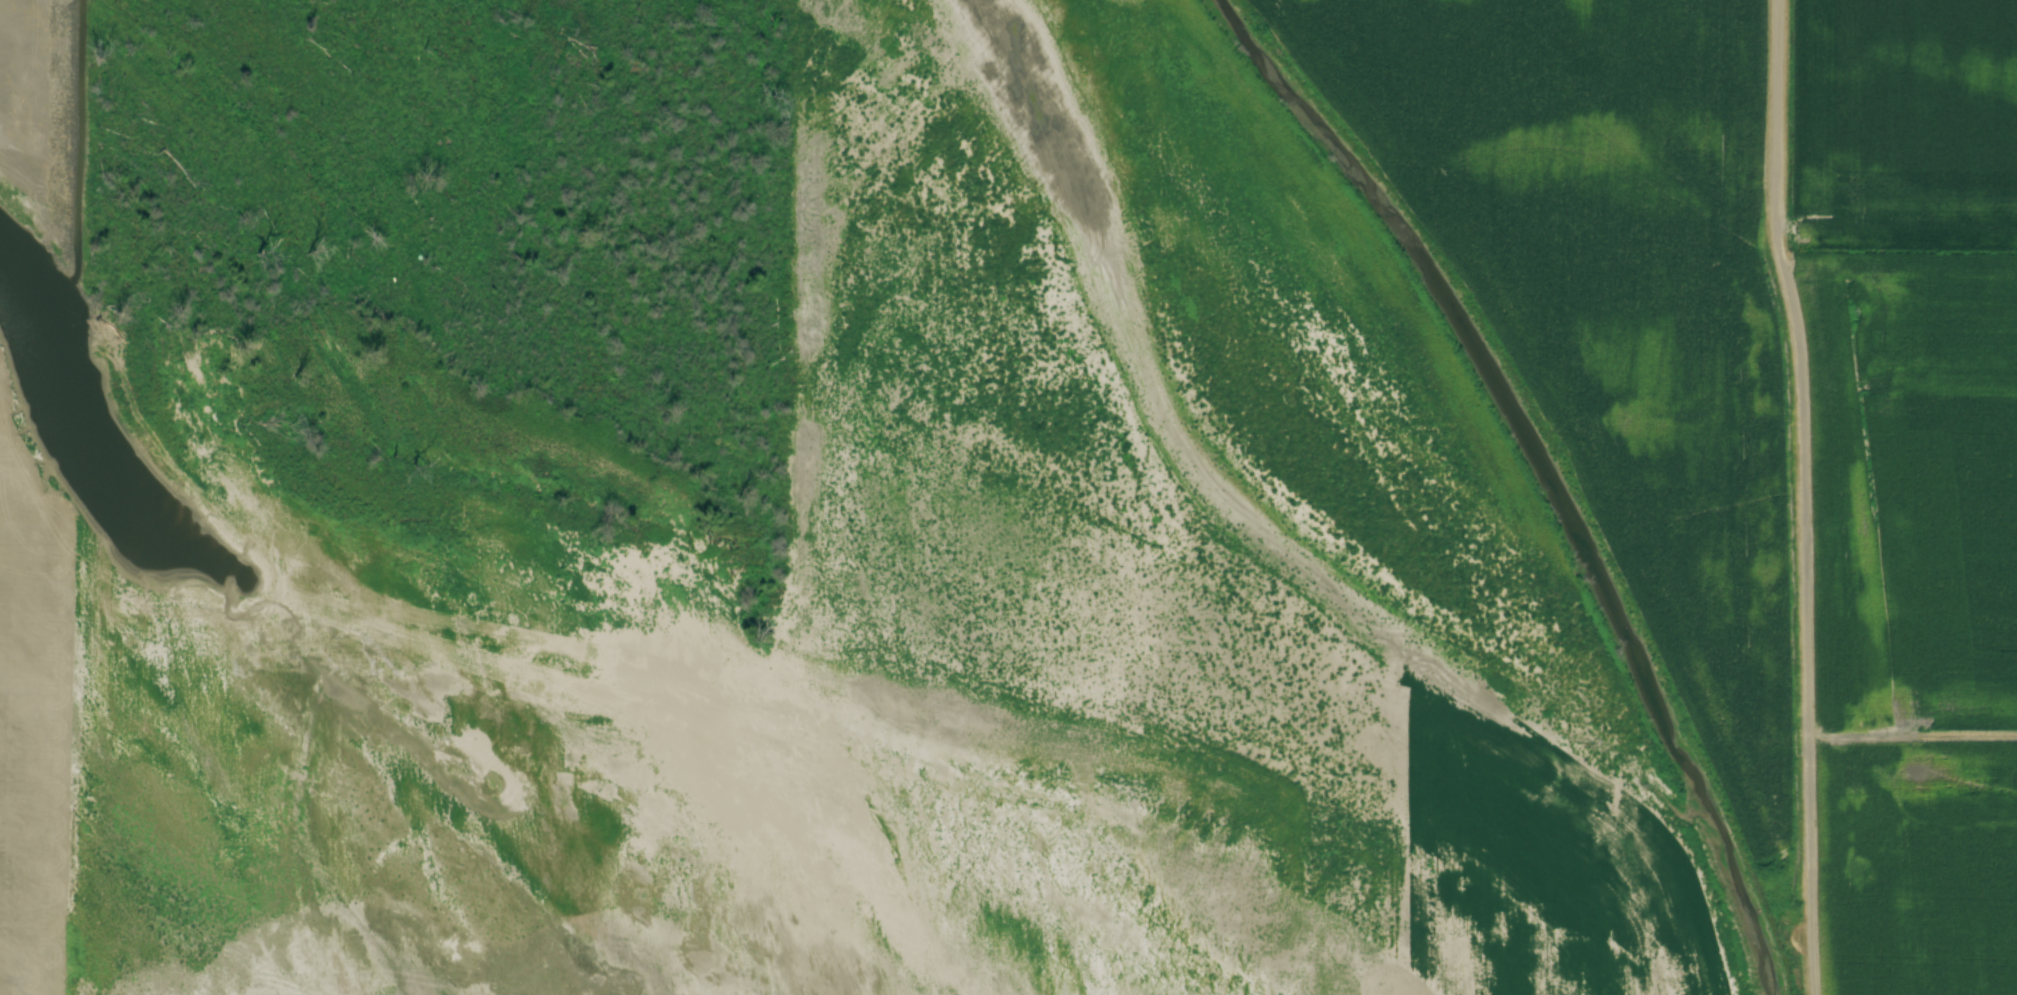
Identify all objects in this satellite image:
road: (1821, 494)

